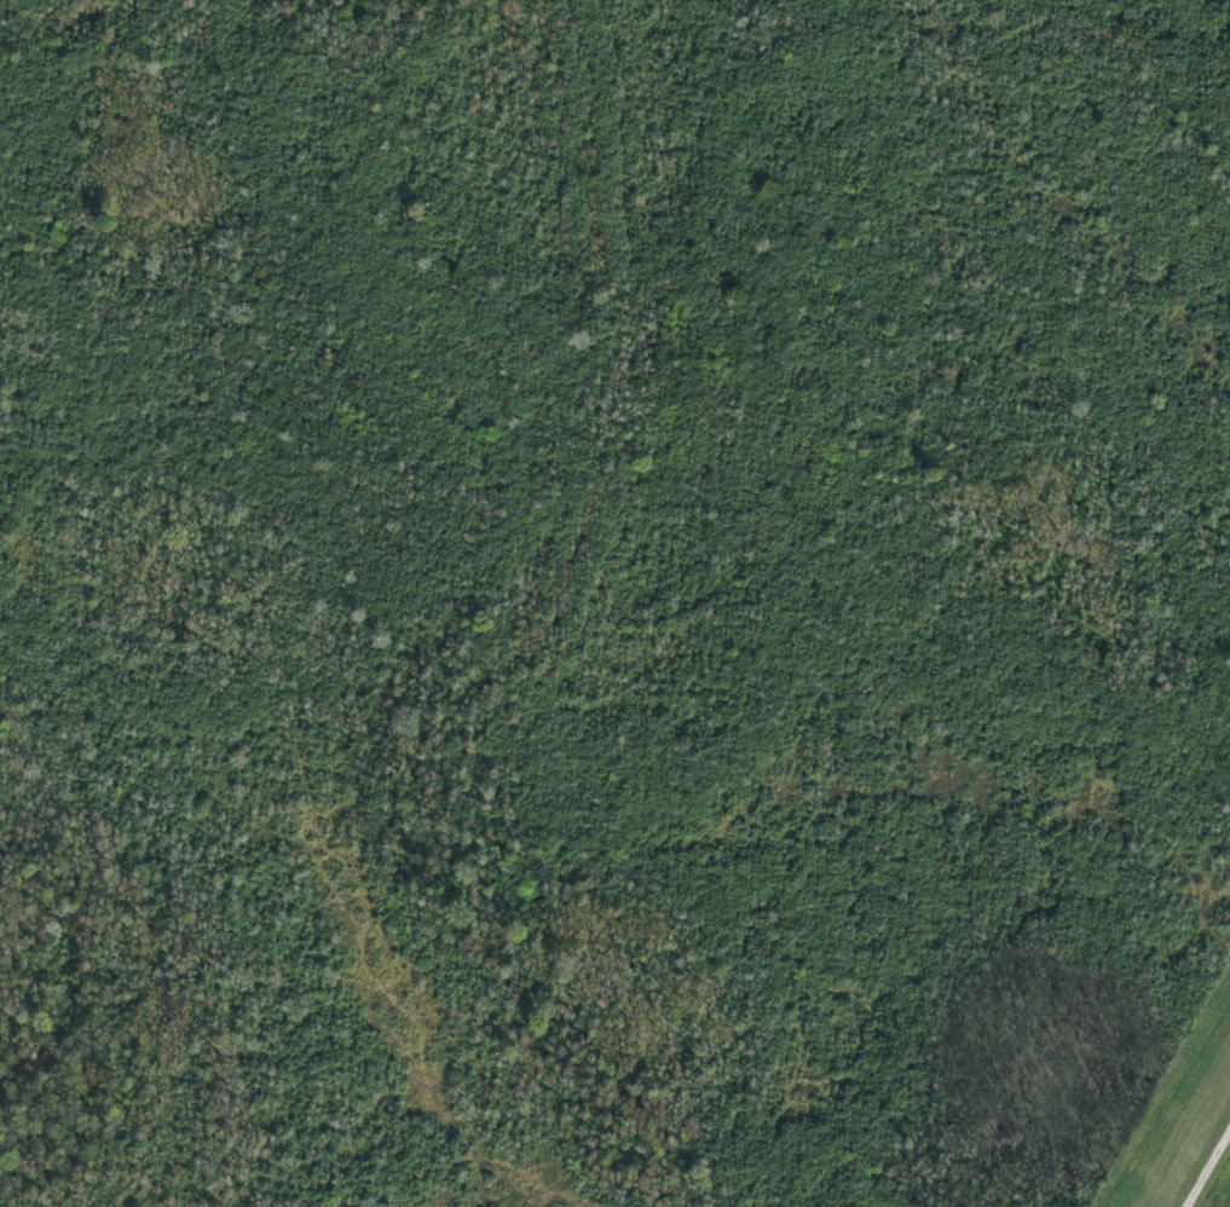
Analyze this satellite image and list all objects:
road: (1213, 1179)

